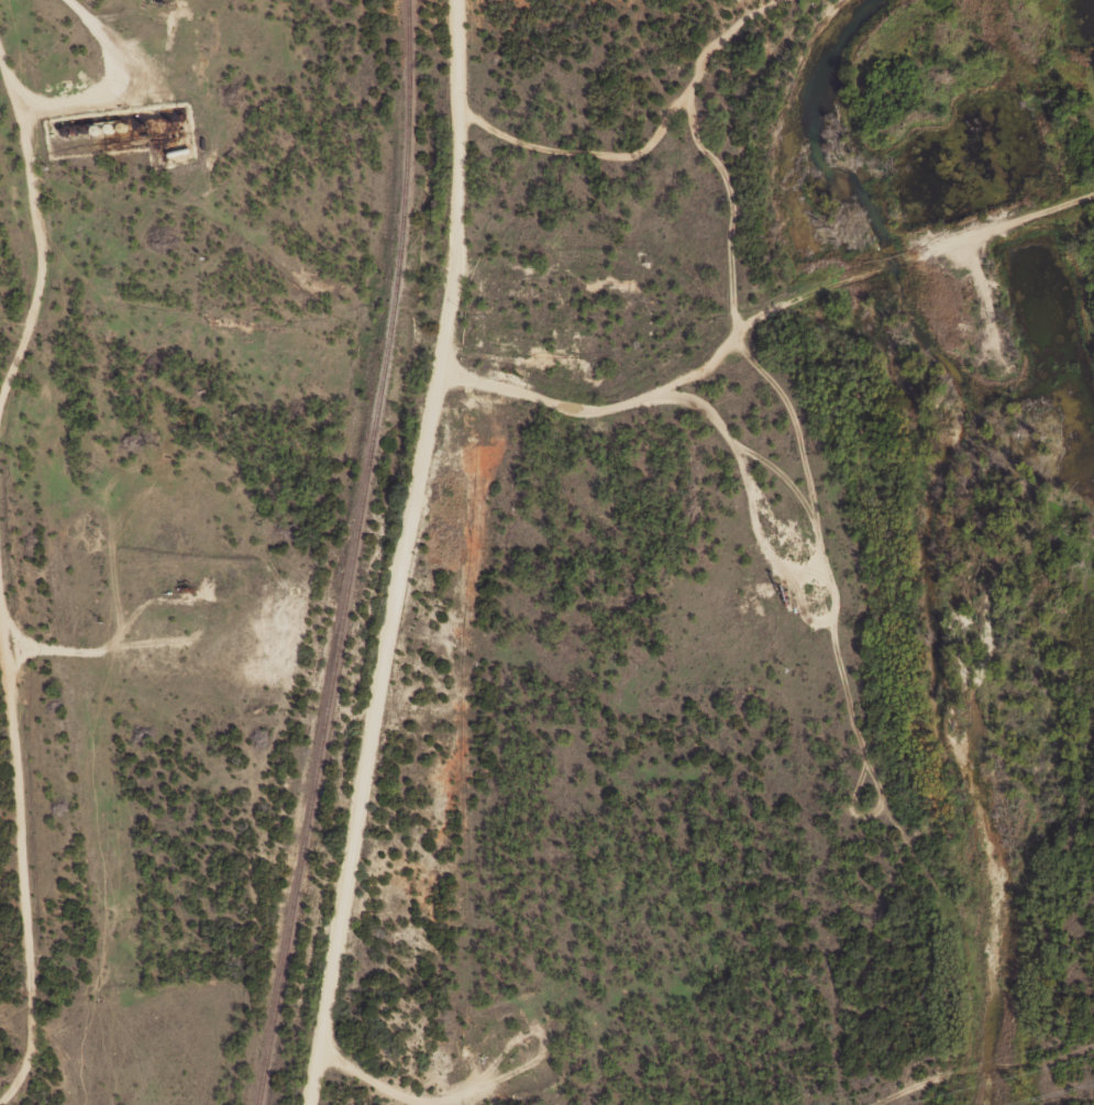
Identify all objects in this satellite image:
road: (112, 82)
road: (29, 147)
road: (698, 147)
road: (584, 151)
road: (451, 190)
road: (762, 316)
road: (26, 322)
railway: (349, 554)
road: (400, 745)
road: (10, 883)

